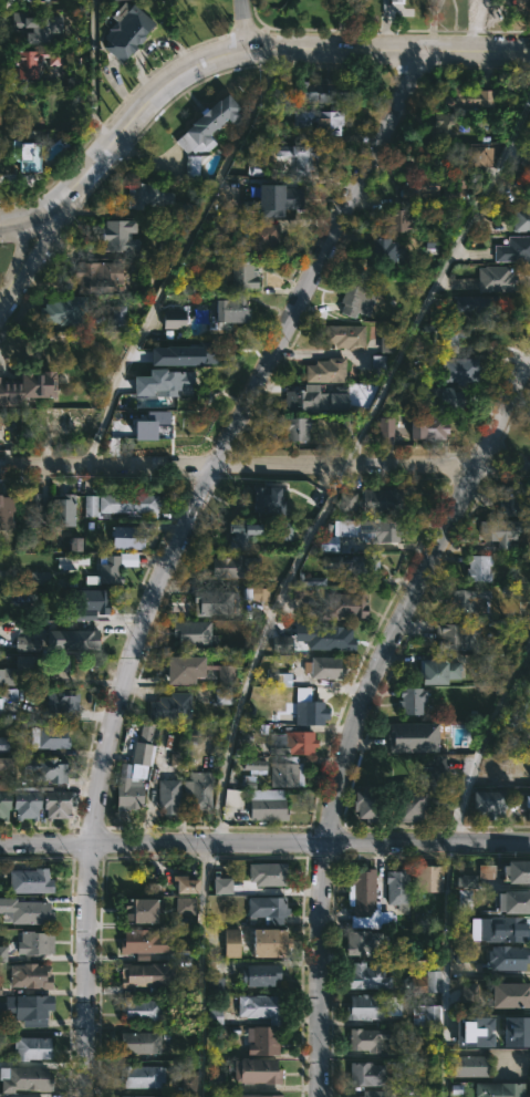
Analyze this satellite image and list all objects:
building: (29, 0)
building: (397, 0)
building: (33, 25)
road: (245, 25)
building: (123, 29)
road: (231, 54)
building: (33, 61)
road: (92, 74)
building: (316, 92)
building: (467, 95)
building: (319, 120)
building: (438, 121)
building: (206, 125)
building: (24, 155)
building: (300, 156)
building: (475, 157)
building: (193, 165)
building: (524, 183)
building: (417, 185)
building: (460, 187)
building: (145, 195)
building: (277, 198)
building: (520, 217)
building: (396, 219)
building: (216, 228)
building: (117, 234)
building: (262, 236)
building: (167, 248)
building: (513, 248)
building: (382, 249)
road: (29, 251)
road: (178, 255)
building: (242, 273)
building: (91, 275)
building: (495, 278)
building: (355, 300)
building: (477, 307)
building: (61, 309)
building: (230, 309)
building: (114, 315)
building: (173, 319)
building: (344, 335)
building: (448, 337)
building: (387, 340)
building: (183, 354)
building: (380, 362)
building: (458, 369)
building: (324, 371)
building: (166, 381)
building: (27, 387)
building: (450, 397)
building: (306, 399)
building: (71, 417)
building: (147, 424)
building: (294, 426)
building: (426, 426)
building: (386, 430)
road: (264, 463)
building: (266, 499)
building: (347, 500)
building: (378, 500)
building: (512, 501)
building: (117, 504)
building: (61, 509)
building: (29, 510)
building: (3, 513)
building: (366, 529)
building: (254, 532)
building: (507, 534)
building: (124, 536)
building: (76, 545)
road: (177, 548)
building: (351, 563)
building: (232, 566)
building: (113, 567)
building: (478, 568)
building: (38, 577)
road: (288, 578)
building: (259, 593)
building: (90, 600)
building: (469, 600)
building: (211, 602)
building: (341, 606)
building: (191, 633)
building: (451, 635)
building: (333, 638)
building: (71, 639)
building: (27, 642)
building: (281, 642)
building: (172, 664)
building: (323, 667)
building: (60, 669)
building: (80, 670)
building: (19, 671)
building: (295, 671)
building: (438, 671)
building: (226, 673)
building: (8, 695)
building: (222, 696)
building: (61, 700)
building: (411, 701)
building: (168, 706)
road: (357, 711)
building: (305, 713)
building: (411, 736)
building: (46, 737)
building: (3, 743)
building: (291, 743)
building: (254, 765)
building: (3, 767)
building: (45, 770)
building: (284, 773)
building: (197, 790)
building: (126, 793)
building: (166, 795)
building: (232, 798)
building: (24, 801)
building: (3, 803)
building: (56, 804)
building: (267, 804)
building: (488, 804)
building: (370, 806)
building: (527, 806)
building: (407, 808)
road: (264, 842)
road: (448, 861)
building: (516, 868)
building: (486, 871)
building: (267, 872)
building: (426, 877)
building: (28, 878)
building: (466, 881)
building: (186, 884)
building: (221, 886)
building: (397, 888)
building: (364, 898)
building: (511, 899)
building: (464, 900)
building: (185, 905)
building: (139, 910)
building: (267, 910)
building: (29, 912)
building: (499, 928)
building: (31, 940)
building: (143, 940)
building: (267, 942)
building: (364, 942)
building: (230, 943)
building: (2, 953)
building: (466, 955)
building: (507, 956)
building: (153, 972)
building: (31, 975)
building: (258, 975)
building: (366, 976)
building: (426, 982)
building: (0, 990)
building: (469, 991)
building: (510, 995)
building: (260, 1007)
building: (363, 1007)
building: (27, 1010)
building: (138, 1011)
building: (425, 1015)
building: (512, 1029)
building: (455, 1031)
building: (474, 1031)
building: (372, 1037)
building: (263, 1041)
building: (142, 1042)
building: (31, 1047)
building: (468, 1066)
building: (256, 1070)
building: (364, 1074)
building: (141, 1075)
building: (24, 1078)
building: (188, 1080)
building: (499, 1089)
building: (374, 1093)
building: (258, 1095)
building: (144, 1096)

